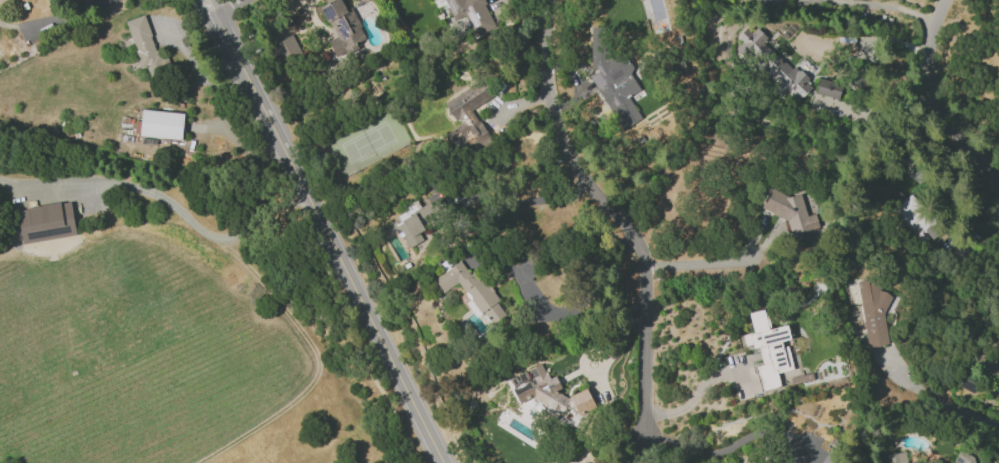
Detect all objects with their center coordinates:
building: (78, 0)
building: (758, 2)
road: (228, 6)
road: (889, 6)
building: (467, 13)
road: (51, 18)
building: (341, 27)
building: (286, 49)
building: (770, 65)
building: (612, 78)
crop: (108, 82)
building: (856, 82)
building: (827, 88)
road: (930, 106)
road: (879, 110)
building: (467, 118)
building: (160, 124)
road: (993, 177)
road: (524, 202)
road: (178, 210)
building: (789, 210)
road: (612, 211)
building: (917, 219)
building: (45, 222)
building: (416, 223)
road: (306, 228)
road: (329, 229)
road: (697, 265)
road: (527, 287)
building: (470, 289)
building: (872, 313)
building: (767, 348)
building: (986, 363)
building: (547, 391)
road: (693, 397)
road: (936, 401)
road: (730, 446)
road: (650, 447)
building: (896, 457)
building: (962, 458)
building: (814, 462)
building: (942, 462)

